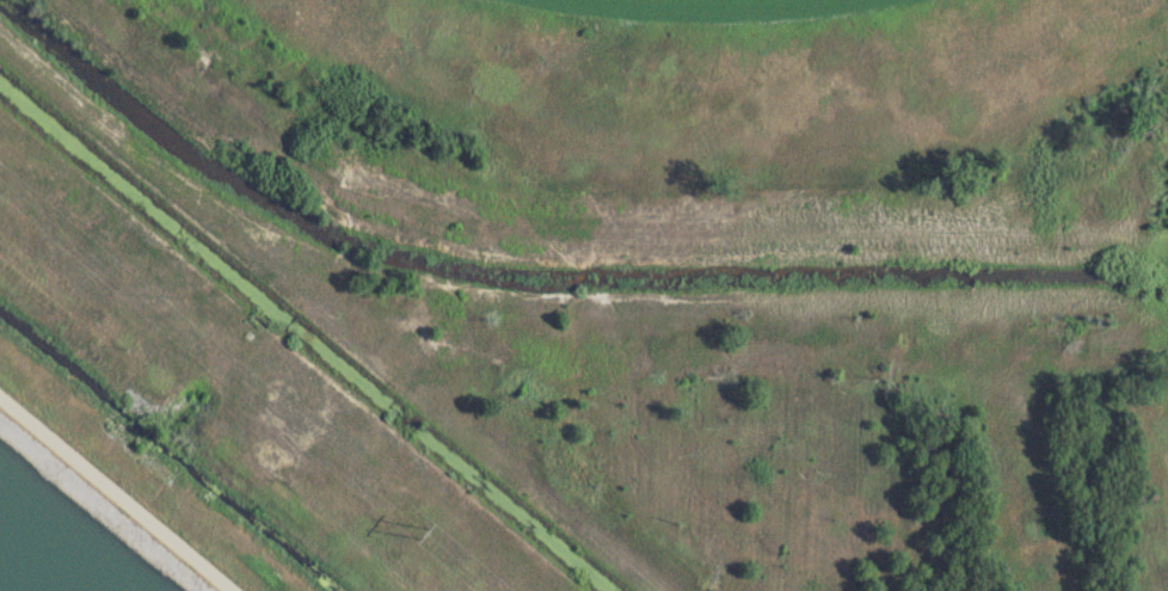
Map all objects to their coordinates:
wastewater plant: (584, 295)
road: (118, 491)
power tower: (417, 521)

